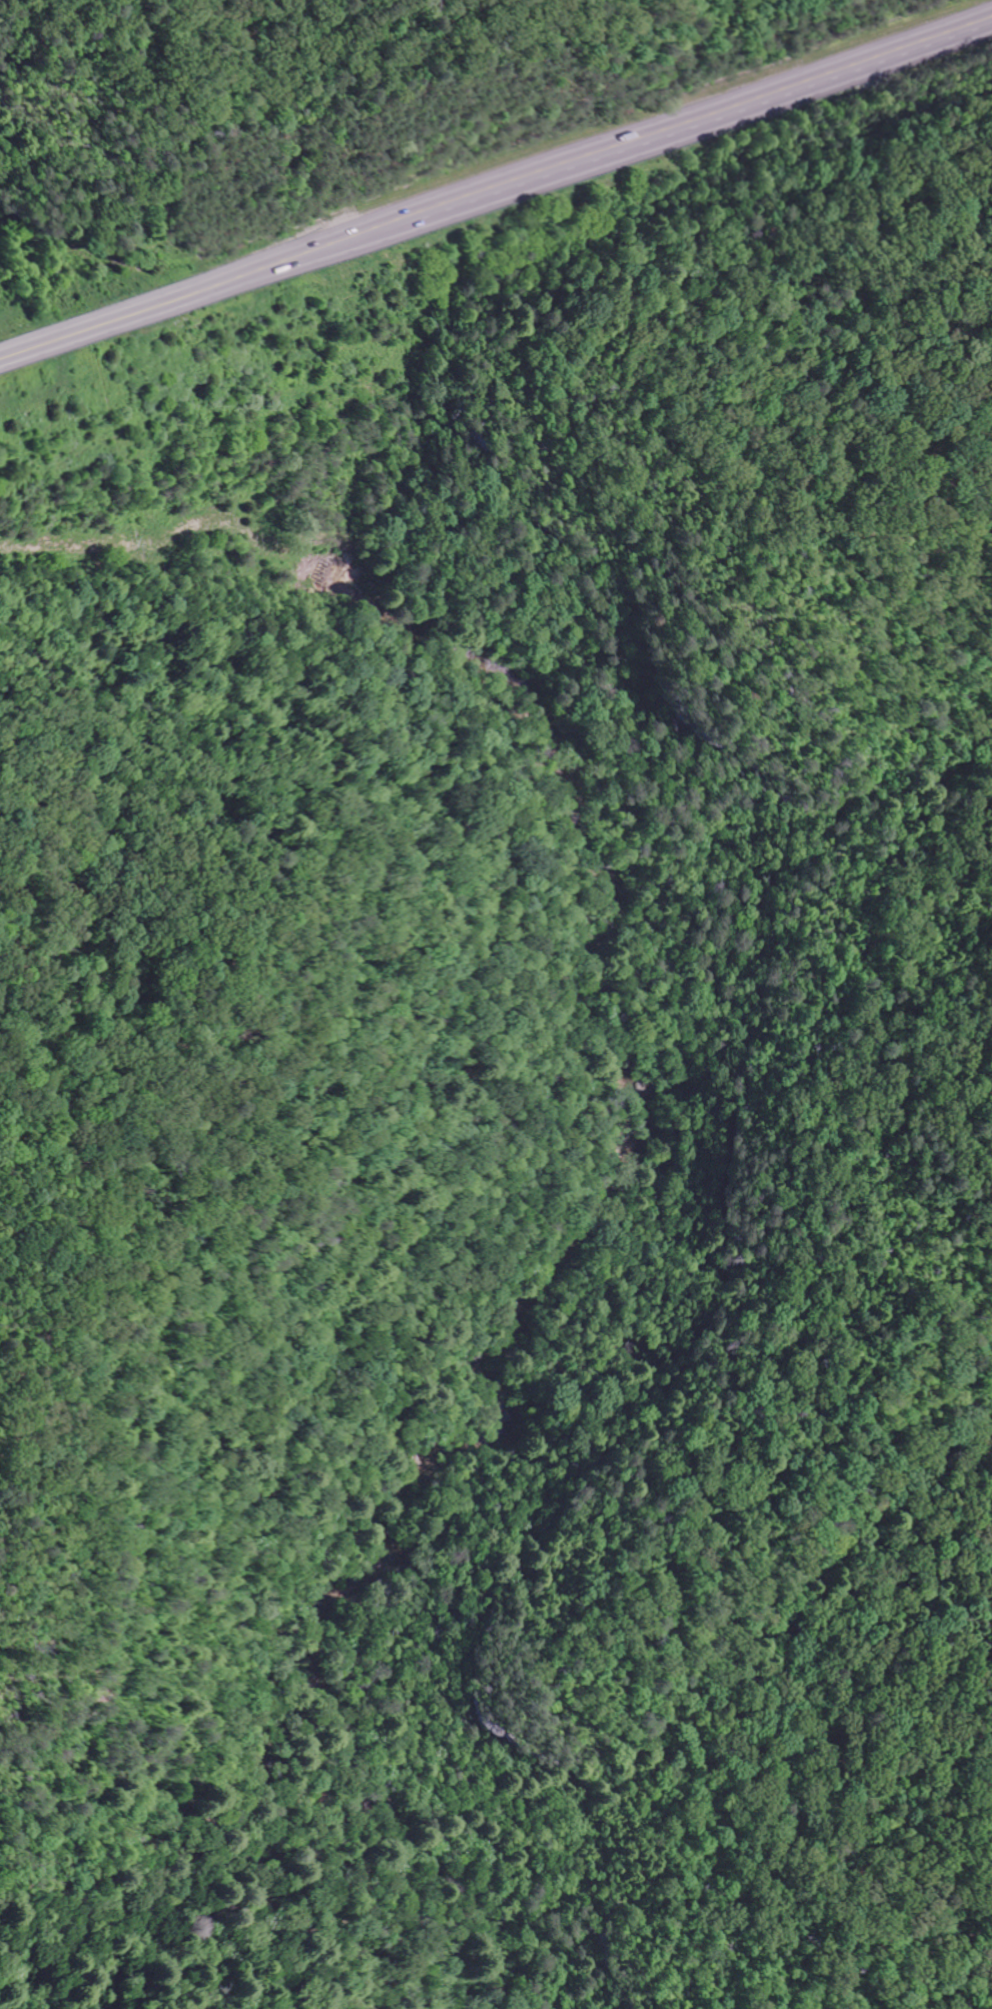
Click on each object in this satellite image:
road: (495, 190)

